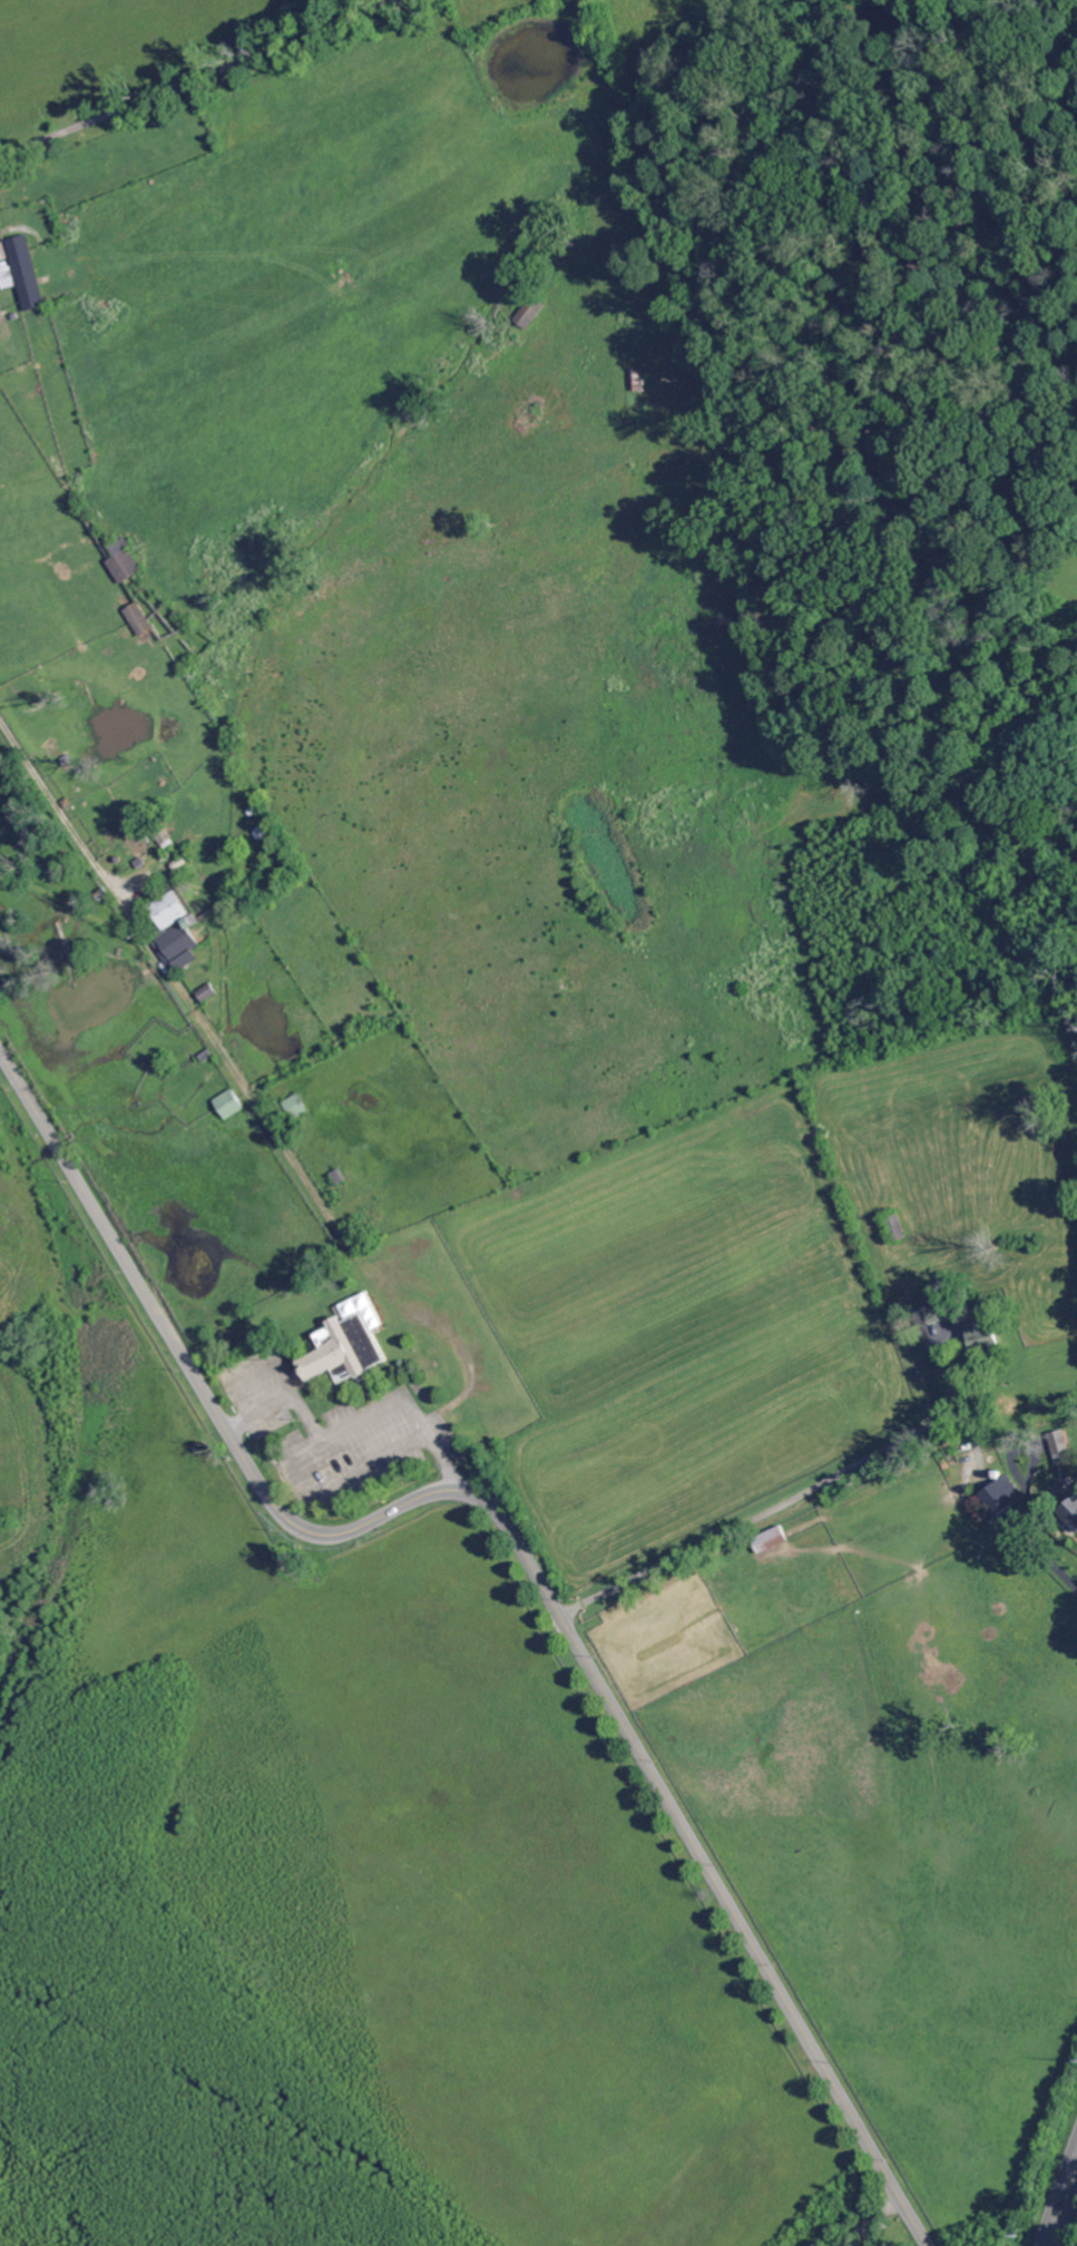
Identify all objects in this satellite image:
road: (197, 78)
building: (2, 252)
building: (26, 274)
building: (7, 278)
building: (13, 294)
building: (530, 313)
building: (639, 380)
building: (125, 562)
building: (140, 620)
building: (723, 627)
building: (29, 747)
building: (67, 761)
building: (868, 765)
building: (68, 803)
building: (16, 833)
building: (164, 836)
building: (144, 837)
building: (115, 863)
building: (138, 864)
building: (179, 864)
building: (190, 870)
building: (165, 871)
building: (197, 877)
building: (176, 929)
building: (13, 964)
building: (208, 992)
building: (231, 1104)
building: (296, 1106)
building: (340, 1176)
building: (364, 1227)
building: (895, 1227)
building: (931, 1314)
building: (980, 1335)
building: (346, 1350)
road: (353, 1422)
road: (976, 1434)
road: (1024, 1445)
building: (1060, 1446)
road: (341, 1485)
building: (1002, 1497)
building: (1071, 1511)
road: (765, 1514)
road: (518, 1538)
building: (773, 1539)
road: (1035, 1541)
road: (1065, 2211)
road: (870, 2218)

